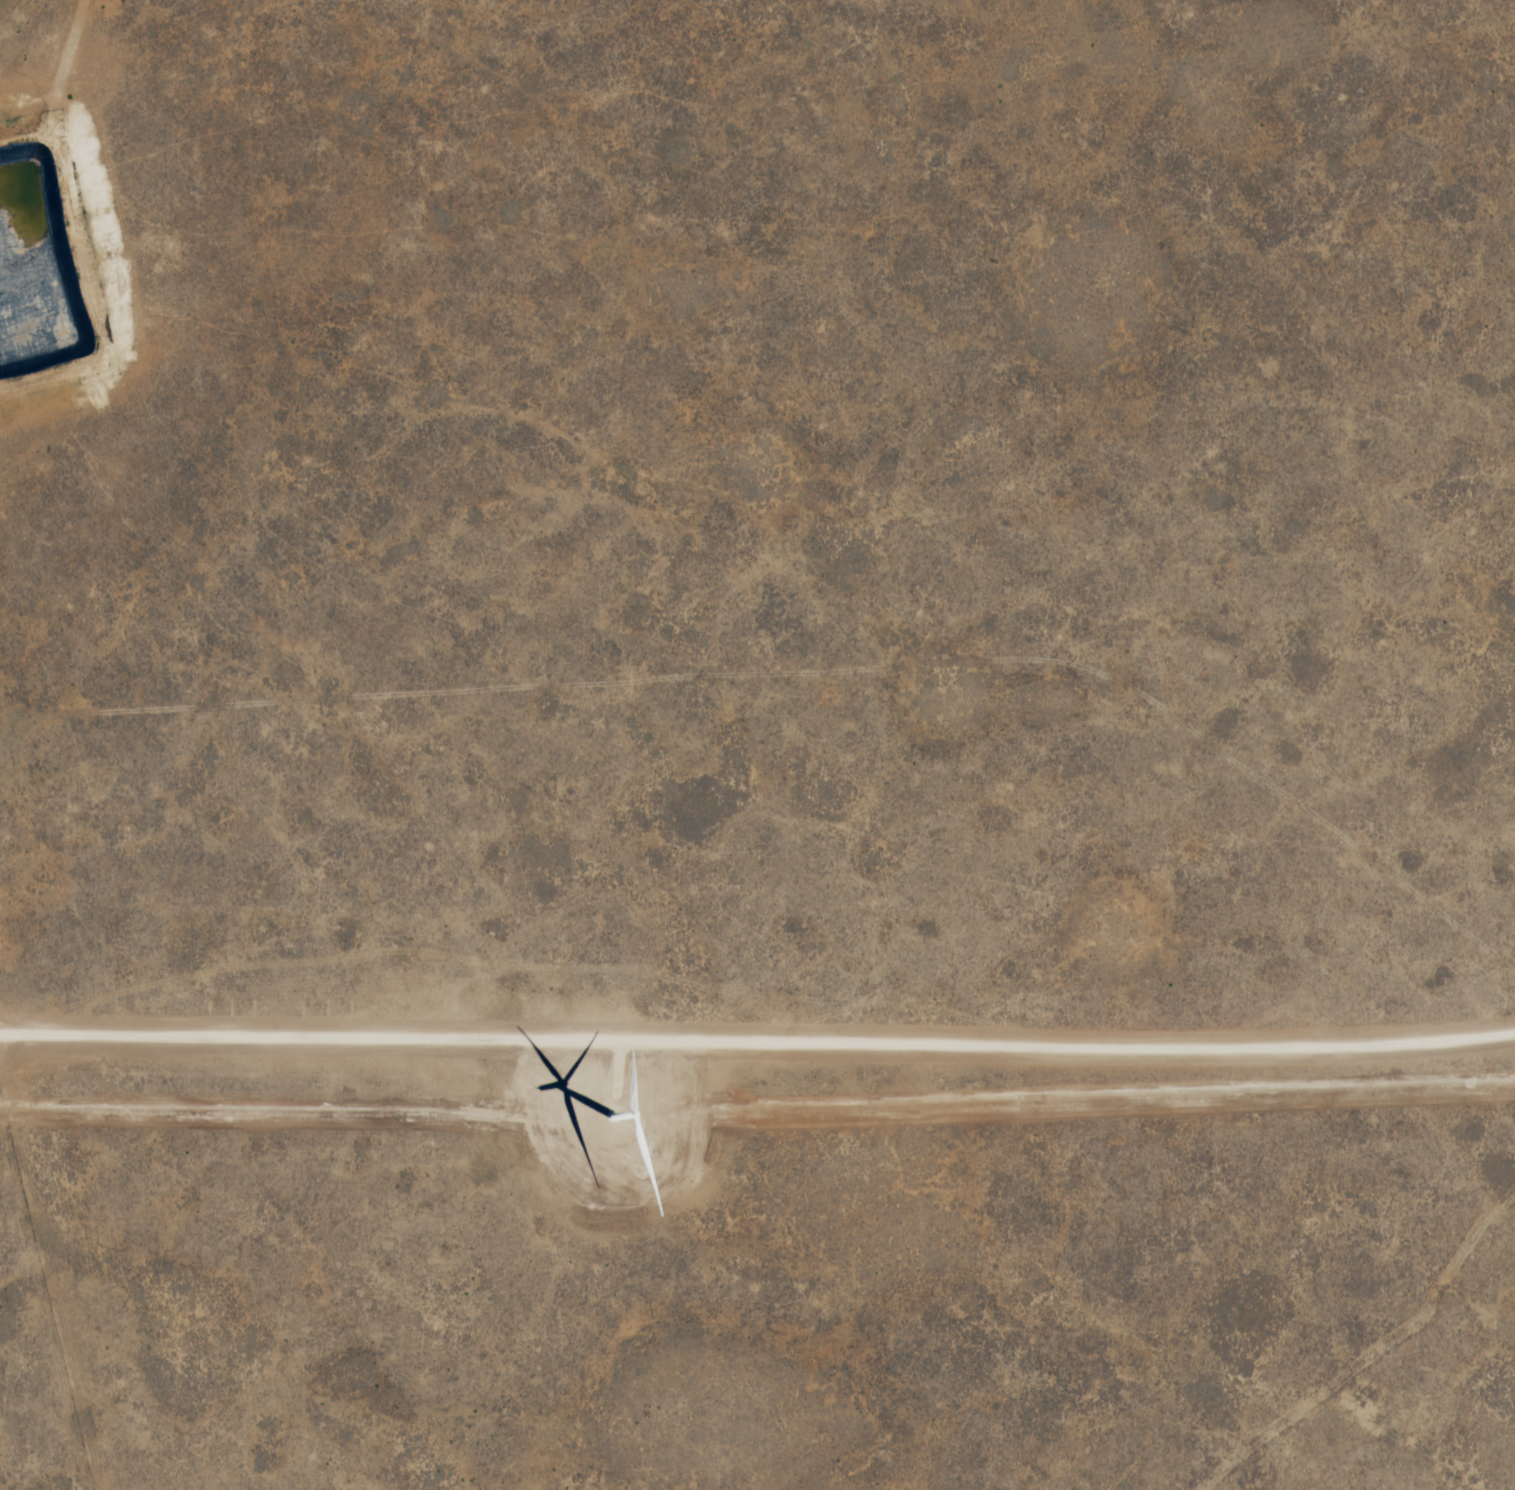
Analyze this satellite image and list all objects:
wind turbine: (607, 1104)

